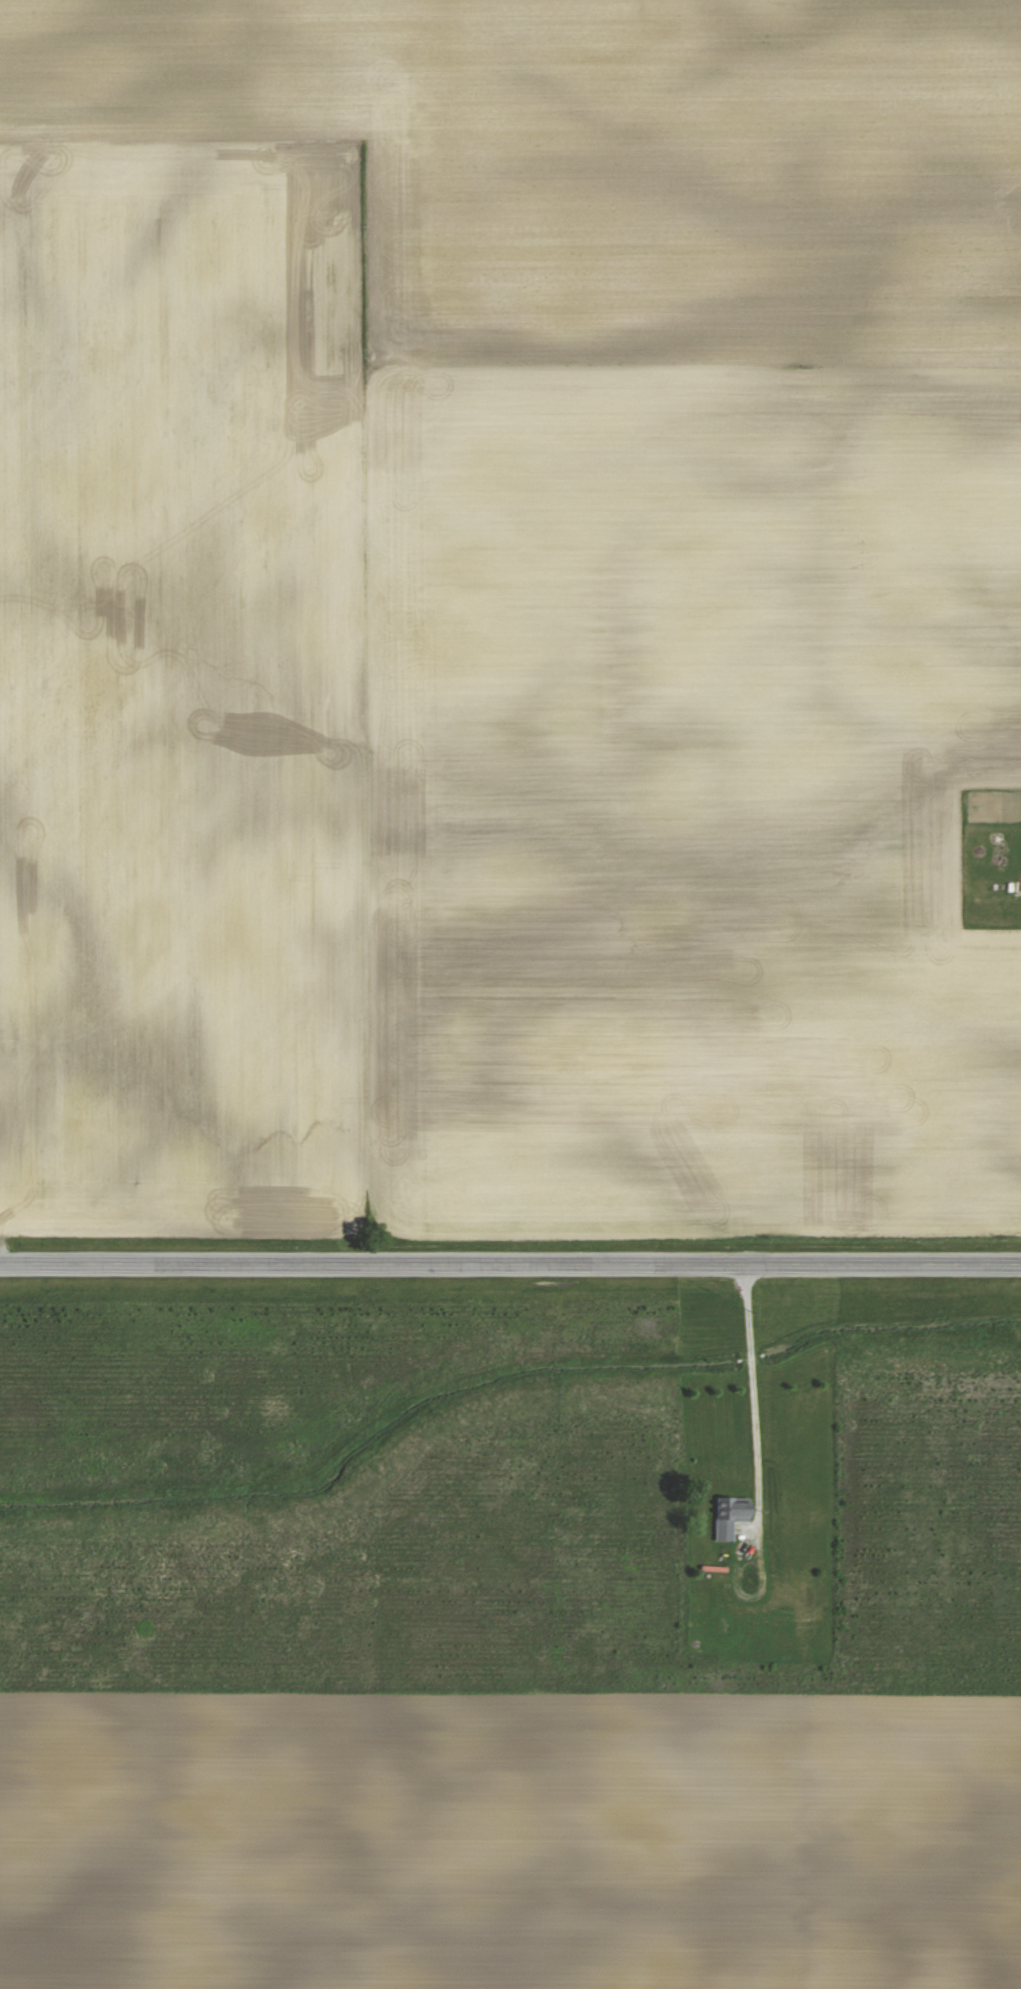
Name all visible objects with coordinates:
road: (510, 1264)
road: (756, 1401)
building: (730, 1515)

